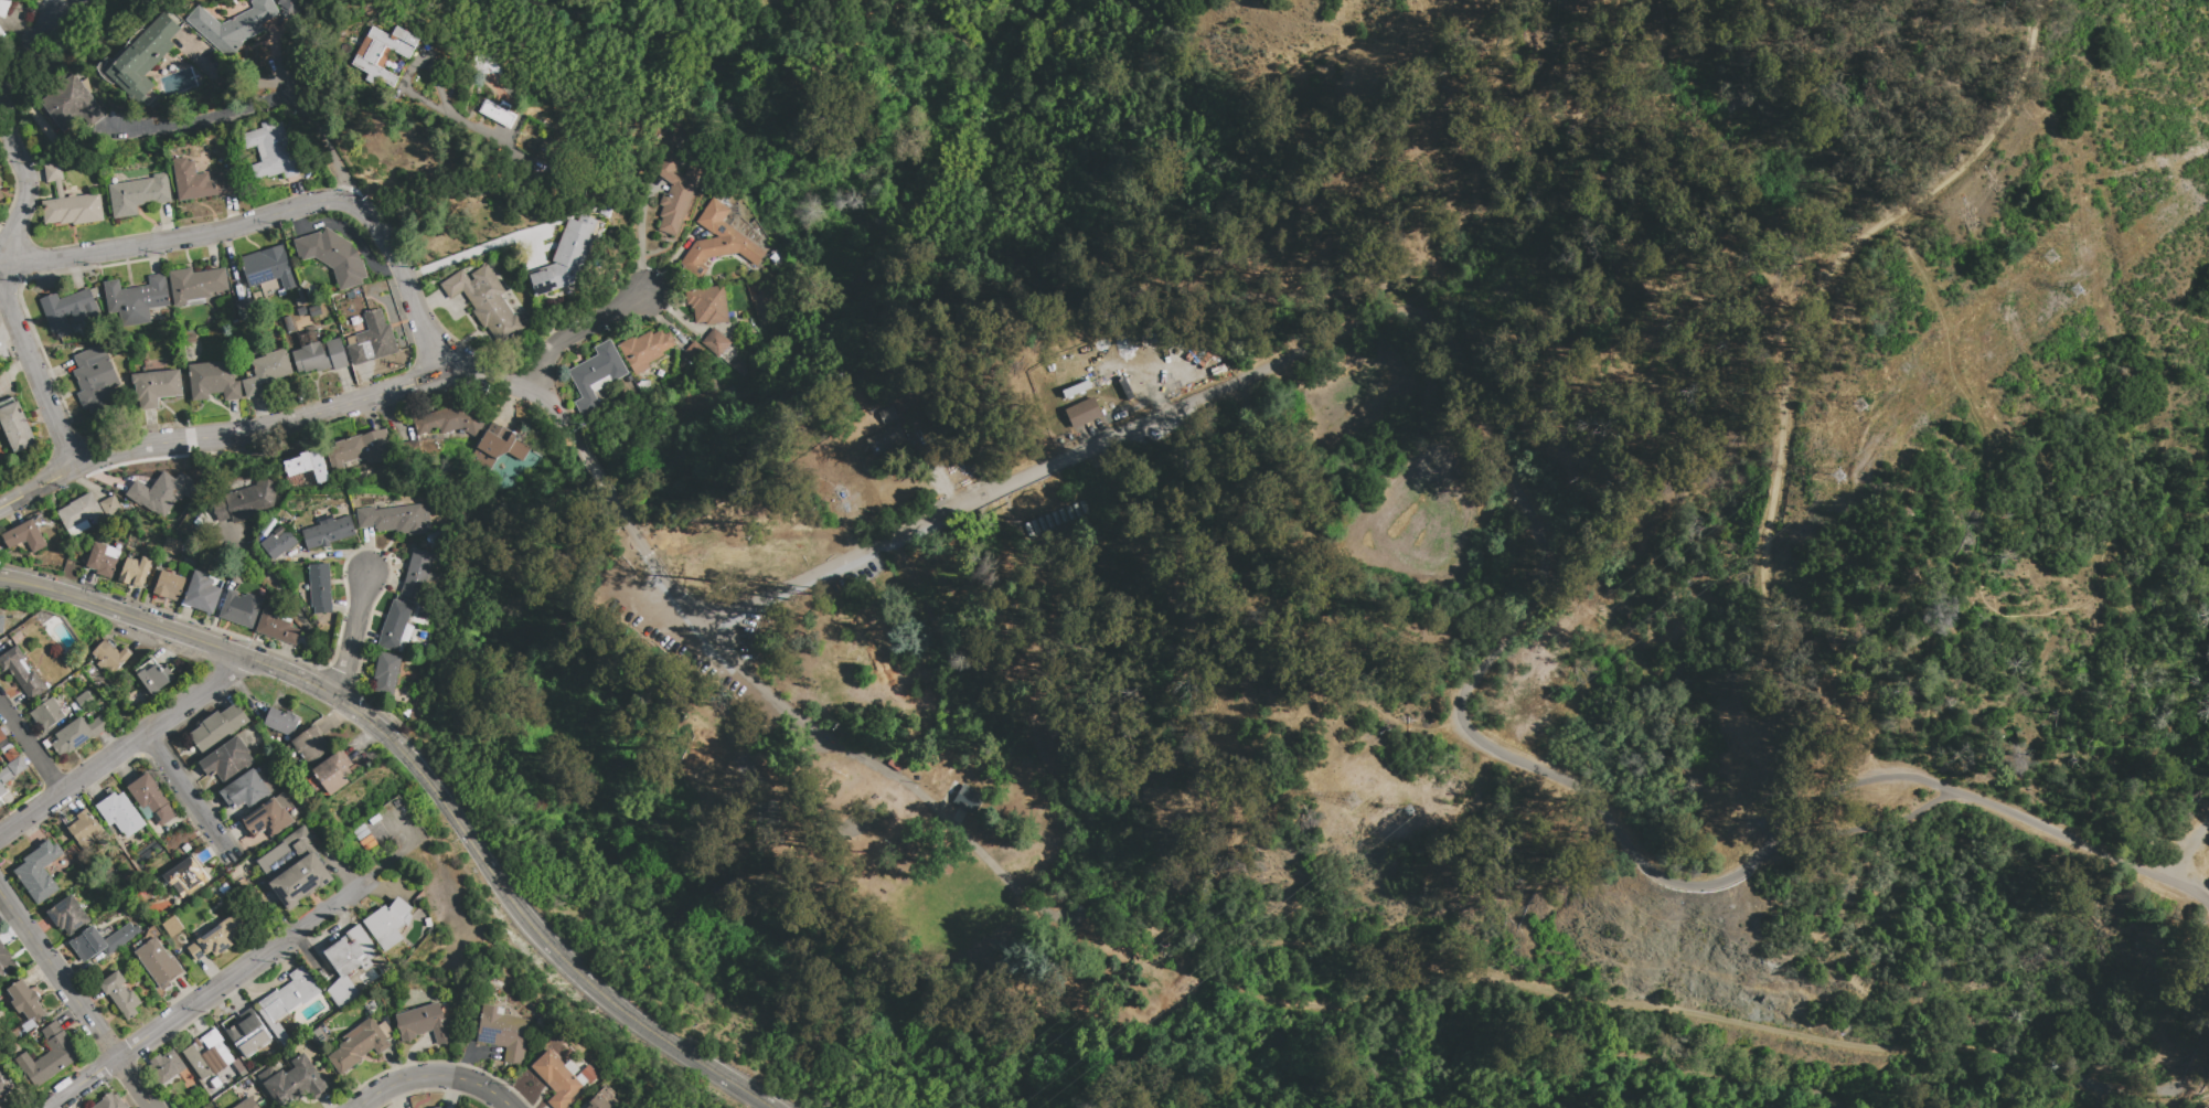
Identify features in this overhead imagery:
building: (3, 7)
building: (291, 7)
building: (234, 25)
building: (2, 35)
building: (385, 53)
building: (145, 57)
road: (285, 81)
road: (266, 102)
building: (73, 105)
building: (499, 114)
building: (44, 126)
road: (488, 136)
building: (273, 151)
building: (0, 182)
building: (199, 182)
building: (675, 191)
building: (138, 194)
building: (1, 195)
building: (70, 203)
building: (690, 206)
road: (269, 216)
road: (15, 230)
road: (641, 238)
building: (717, 241)
road: (483, 246)
power tower: (2051, 248)
building: (333, 257)
building: (566, 257)
building: (268, 267)
building: (195, 284)
power tower: (2074, 290)
building: (136, 299)
building: (485, 301)
building: (708, 305)
building: (246, 309)
building: (67, 310)
building: (316, 310)
building: (301, 313)
building: (288, 323)
road: (578, 330)
building: (373, 340)
building: (714, 340)
building: (645, 349)
building: (695, 352)
building: (320, 356)
building: (266, 372)
building: (596, 376)
building: (94, 377)
building: (213, 381)
road: (1785, 381)
building: (601, 384)
building: (644, 386)
building: (156, 387)
power tower: (1866, 395)
building: (888, 415)
building: (1081, 415)
road: (295, 420)
building: (450, 422)
building: (17, 427)
building: (886, 440)
building: (498, 447)
building: (359, 449)
road: (588, 458)
building: (307, 465)
power tower: (1840, 478)
building: (160, 492)
building: (108, 502)
building: (245, 502)
building: (79, 511)
building: (396, 519)
building: (268, 526)
building: (78, 529)
building: (328, 532)
building: (24, 536)
building: (438, 537)
building: (278, 543)
building: (172, 546)
road: (645, 546)
building: (111, 553)
building: (102, 561)
building: (136, 572)
building: (417, 576)
building: (433, 578)
road: (790, 580)
building: (169, 585)
building: (320, 588)
building: (202, 594)
road: (290, 604)
building: (241, 608)
building: (423, 614)
building: (282, 618)
building: (1, 622)
building: (395, 625)
building: (276, 627)
road: (351, 636)
building: (404, 638)
road: (1503, 642)
building: (109, 656)
building: (21, 673)
building: (386, 673)
building: (153, 676)
building: (85, 701)
building: (46, 714)
building: (281, 722)
building: (218, 728)
building: (77, 734)
building: (2, 736)
building: (311, 746)
road: (31, 748)
road: (122, 748)
building: (227, 761)
building: (17, 766)
building: (332, 773)
building: (3, 779)
road: (426, 781)
building: (245, 790)
road: (189, 791)
building: (152, 798)
road: (918, 798)
building: (969, 800)
building: (0, 805)
power tower: (1409, 811)
building: (120, 813)
park: (822, 814)
power tower: (1328, 816)
building: (268, 819)
park: (767, 823)
road: (1869, 827)
building: (88, 831)
building: (185, 848)
road: (2183, 856)
building: (39, 872)
building: (301, 872)
building: (188, 875)
road: (2208, 897)
building: (1077, 908)
building: (68, 916)
building: (387, 923)
building: (171, 927)
building: (218, 936)
building: (102, 941)
road: (1280, 942)
building: (6, 962)
building: (158, 962)
building: (349, 963)
building: (120, 994)
building: (289, 995)
road: (203, 998)
road: (76, 1000)
building: (25, 1001)
building: (425, 1023)
building: (542, 1024)
building: (52, 1031)
building: (503, 1033)
building: (248, 1034)
building: (318, 1036)
building: (360, 1045)
building: (209, 1056)
building: (49, 1061)
building: (167, 1066)
building: (572, 1067)
building: (589, 1074)
road: (434, 1077)
road: (1947, 1078)
building: (557, 1079)
building: (583, 1079)
building: (292, 1082)
building: (4, 1084)
building: (246, 1089)
building: (110, 1102)
building: (247, 1104)
building: (599, 1104)
building: (437, 1107)

